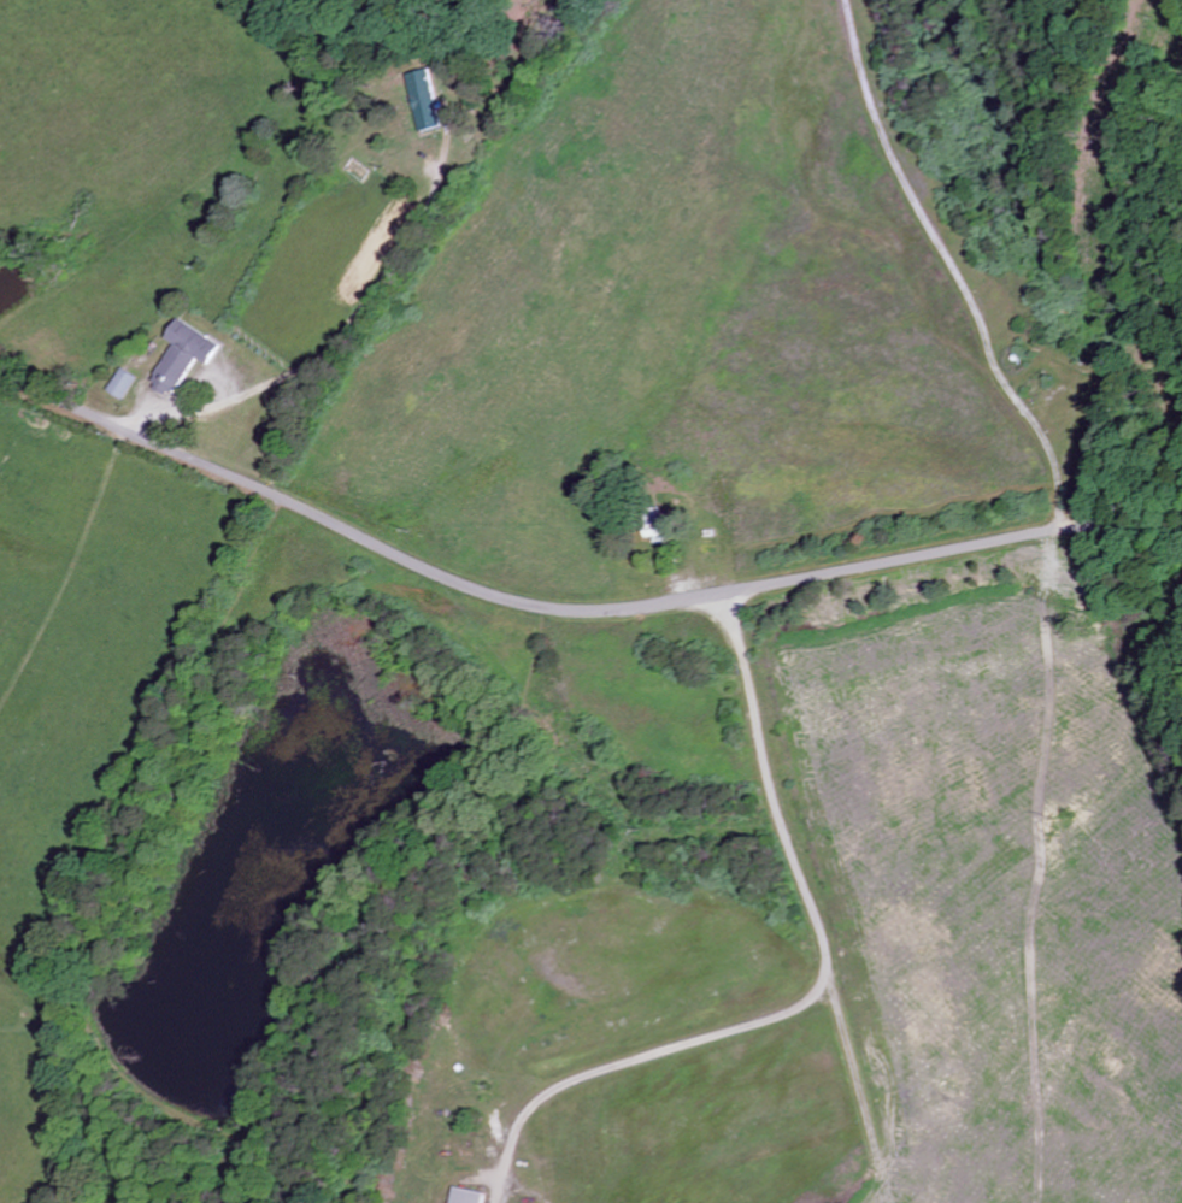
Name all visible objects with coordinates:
building: (421, 101)
road: (337, 342)
building: (180, 358)
building: (119, 385)
road: (1054, 464)
road: (570, 611)
road: (771, 786)
road: (633, 1060)
road: (855, 1092)
building: (474, 1197)
road: (883, 1199)

